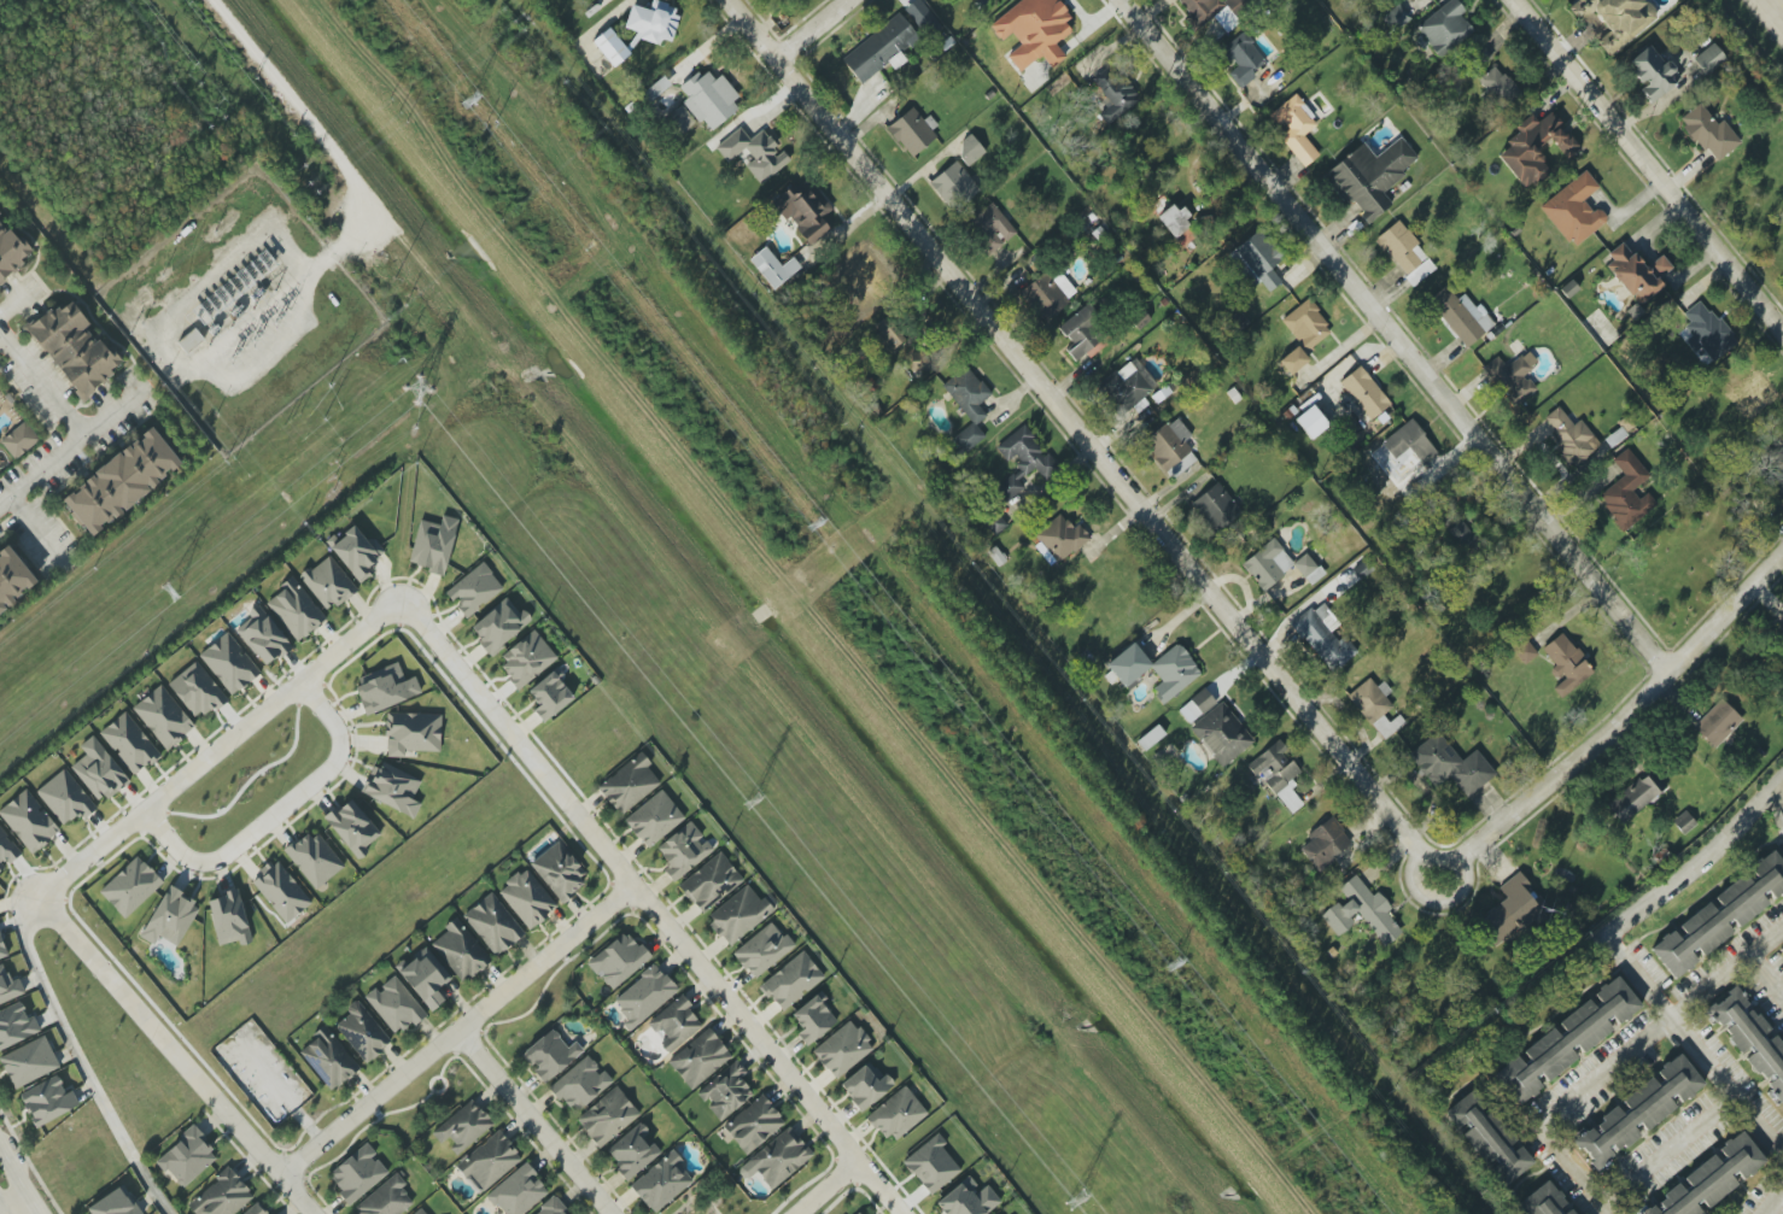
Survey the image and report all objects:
road: (1781, 1)
building: (1216, 13)
building: (1396, 17)
building: (1615, 19)
building: (653, 22)
road: (808, 28)
building: (1445, 28)
building: (1034, 30)
building: (610, 47)
building: (881, 49)
building: (1243, 59)
building: (1708, 59)
building: (1653, 72)
building: (1498, 87)
building: (1113, 93)
building: (709, 99)
power tower: (470, 100)
building: (1296, 129)
building: (911, 133)
building: (1709, 133)
building: (1533, 147)
building: (970, 148)
building: (754, 153)
road: (1647, 166)
building: (1369, 176)
building: (953, 186)
building: (1574, 210)
building: (802, 211)
building: (1174, 221)
building: (992, 228)
building: (1405, 253)
building: (1261, 258)
building: (773, 268)
building: (1637, 272)
building: (1047, 294)
road: (11, 301)
power substation: (240, 310)
building: (1461, 316)
power tower: (277, 319)
building: (1708, 330)
building: (1082, 332)
building: (1303, 334)
power tower: (255, 335)
road: (1393, 335)
road: (0, 336)
building: (189, 340)
building: (74, 347)
power tower: (234, 354)
building: (1512, 377)
road: (42, 385)
power tower: (422, 387)
building: (1126, 387)
building: (1364, 393)
building: (968, 405)
building: (1311, 422)
road: (1078, 432)
building: (1571, 436)
building: (19, 440)
building: (1409, 444)
building: (1779, 446)
building: (1171, 447)
road: (68, 451)
building: (1022, 462)
building: (122, 481)
building: (1778, 488)
building: (1627, 492)
building: (1216, 508)
building: (994, 522)
power tower: (814, 529)
road: (42, 530)
building: (1060, 538)
building: (1462, 538)
building: (433, 545)
building: (356, 552)
building: (1268, 564)
building: (1308, 568)
building: (12, 579)
building: (328, 583)
power tower: (173, 587)
building: (474, 590)
road: (711, 609)
building: (294, 610)
building: (499, 626)
building: (1782, 626)
building: (263, 637)
building: (1325, 637)
building: (1525, 652)
building: (526, 658)
building: (229, 663)
building: (1566, 664)
building: (1156, 669)
building: (386, 688)
building: (197, 691)
building: (550, 694)
building: (1197, 705)
building: (1375, 706)
building: (163, 717)
road: (1619, 719)
building: (1718, 723)
building: (411, 733)
building: (1221, 734)
building: (129, 744)
road: (220, 750)
building: (1450, 766)
building: (98, 770)
building: (1278, 775)
building: (629, 784)
building: (393, 788)
building: (1635, 796)
building: (65, 798)
power tower: (758, 803)
road: (1776, 805)
road: (276, 813)
building: (654, 819)
building: (29, 821)
building: (1684, 822)
building: (352, 827)
building: (1325, 843)
building: (6, 850)
building: (683, 850)
building: (315, 858)
building: (559, 870)
building: (711, 882)
building: (130, 886)
road: (1658, 890)
building: (281, 891)
building: (527, 898)
road: (1432, 898)
road: (651, 907)
building: (1361, 910)
building: (1510, 910)
building: (738, 915)
building: (1721, 915)
building: (170, 917)
building: (229, 919)
building: (493, 925)
building: (1782, 946)
building: (2, 949)
building: (460, 950)
building: (762, 950)
building: (618, 960)
power tower: (1176, 968)
road: (1767, 973)
road: (1725, 974)
building: (425, 978)
building: (791, 981)
building: (8, 986)
building: (644, 996)
building: (394, 1005)
building: (813, 1019)
building: (676, 1024)
building: (16, 1025)
road: (487, 1025)
road: (457, 1031)
building: (362, 1032)
road: (470, 1032)
building: (1750, 1038)
building: (1566, 1040)
road: (456, 1044)
building: (842, 1049)
road: (174, 1055)
building: (550, 1055)
road: (457, 1057)
building: (328, 1058)
building: (700, 1058)
road: (81, 1060)
building: (29, 1062)
building: (580, 1084)
building: (866, 1085)
road: (1723, 1089)
building: (725, 1091)
road: (435, 1092)
building: (47, 1101)
road: (1559, 1107)
building: (1638, 1110)
building: (898, 1114)
building: (607, 1116)
road: (533, 1122)
building: (753, 1124)
building: (463, 1127)
building: (1487, 1139)
road: (349, 1143)
road: (1668, 1148)
building: (633, 1151)
building: (187, 1157)
building: (777, 1159)
building: (489, 1161)
building: (931, 1165)
building: (357, 1173)
building: (1712, 1178)
road: (17, 1180)
building: (661, 1181)
road: (608, 1187)
road: (826, 1187)
building: (518, 1191)
power tower: (1078, 1195)
building: (221, 1196)
road: (577, 1197)
road: (695, 1197)
building: (385, 1198)
building: (966, 1198)
road: (1772, 1198)
building: (1542, 1201)
building: (115, 1203)
road: (14, 1207)
building: (1569, 1212)
road: (0, 1213)

